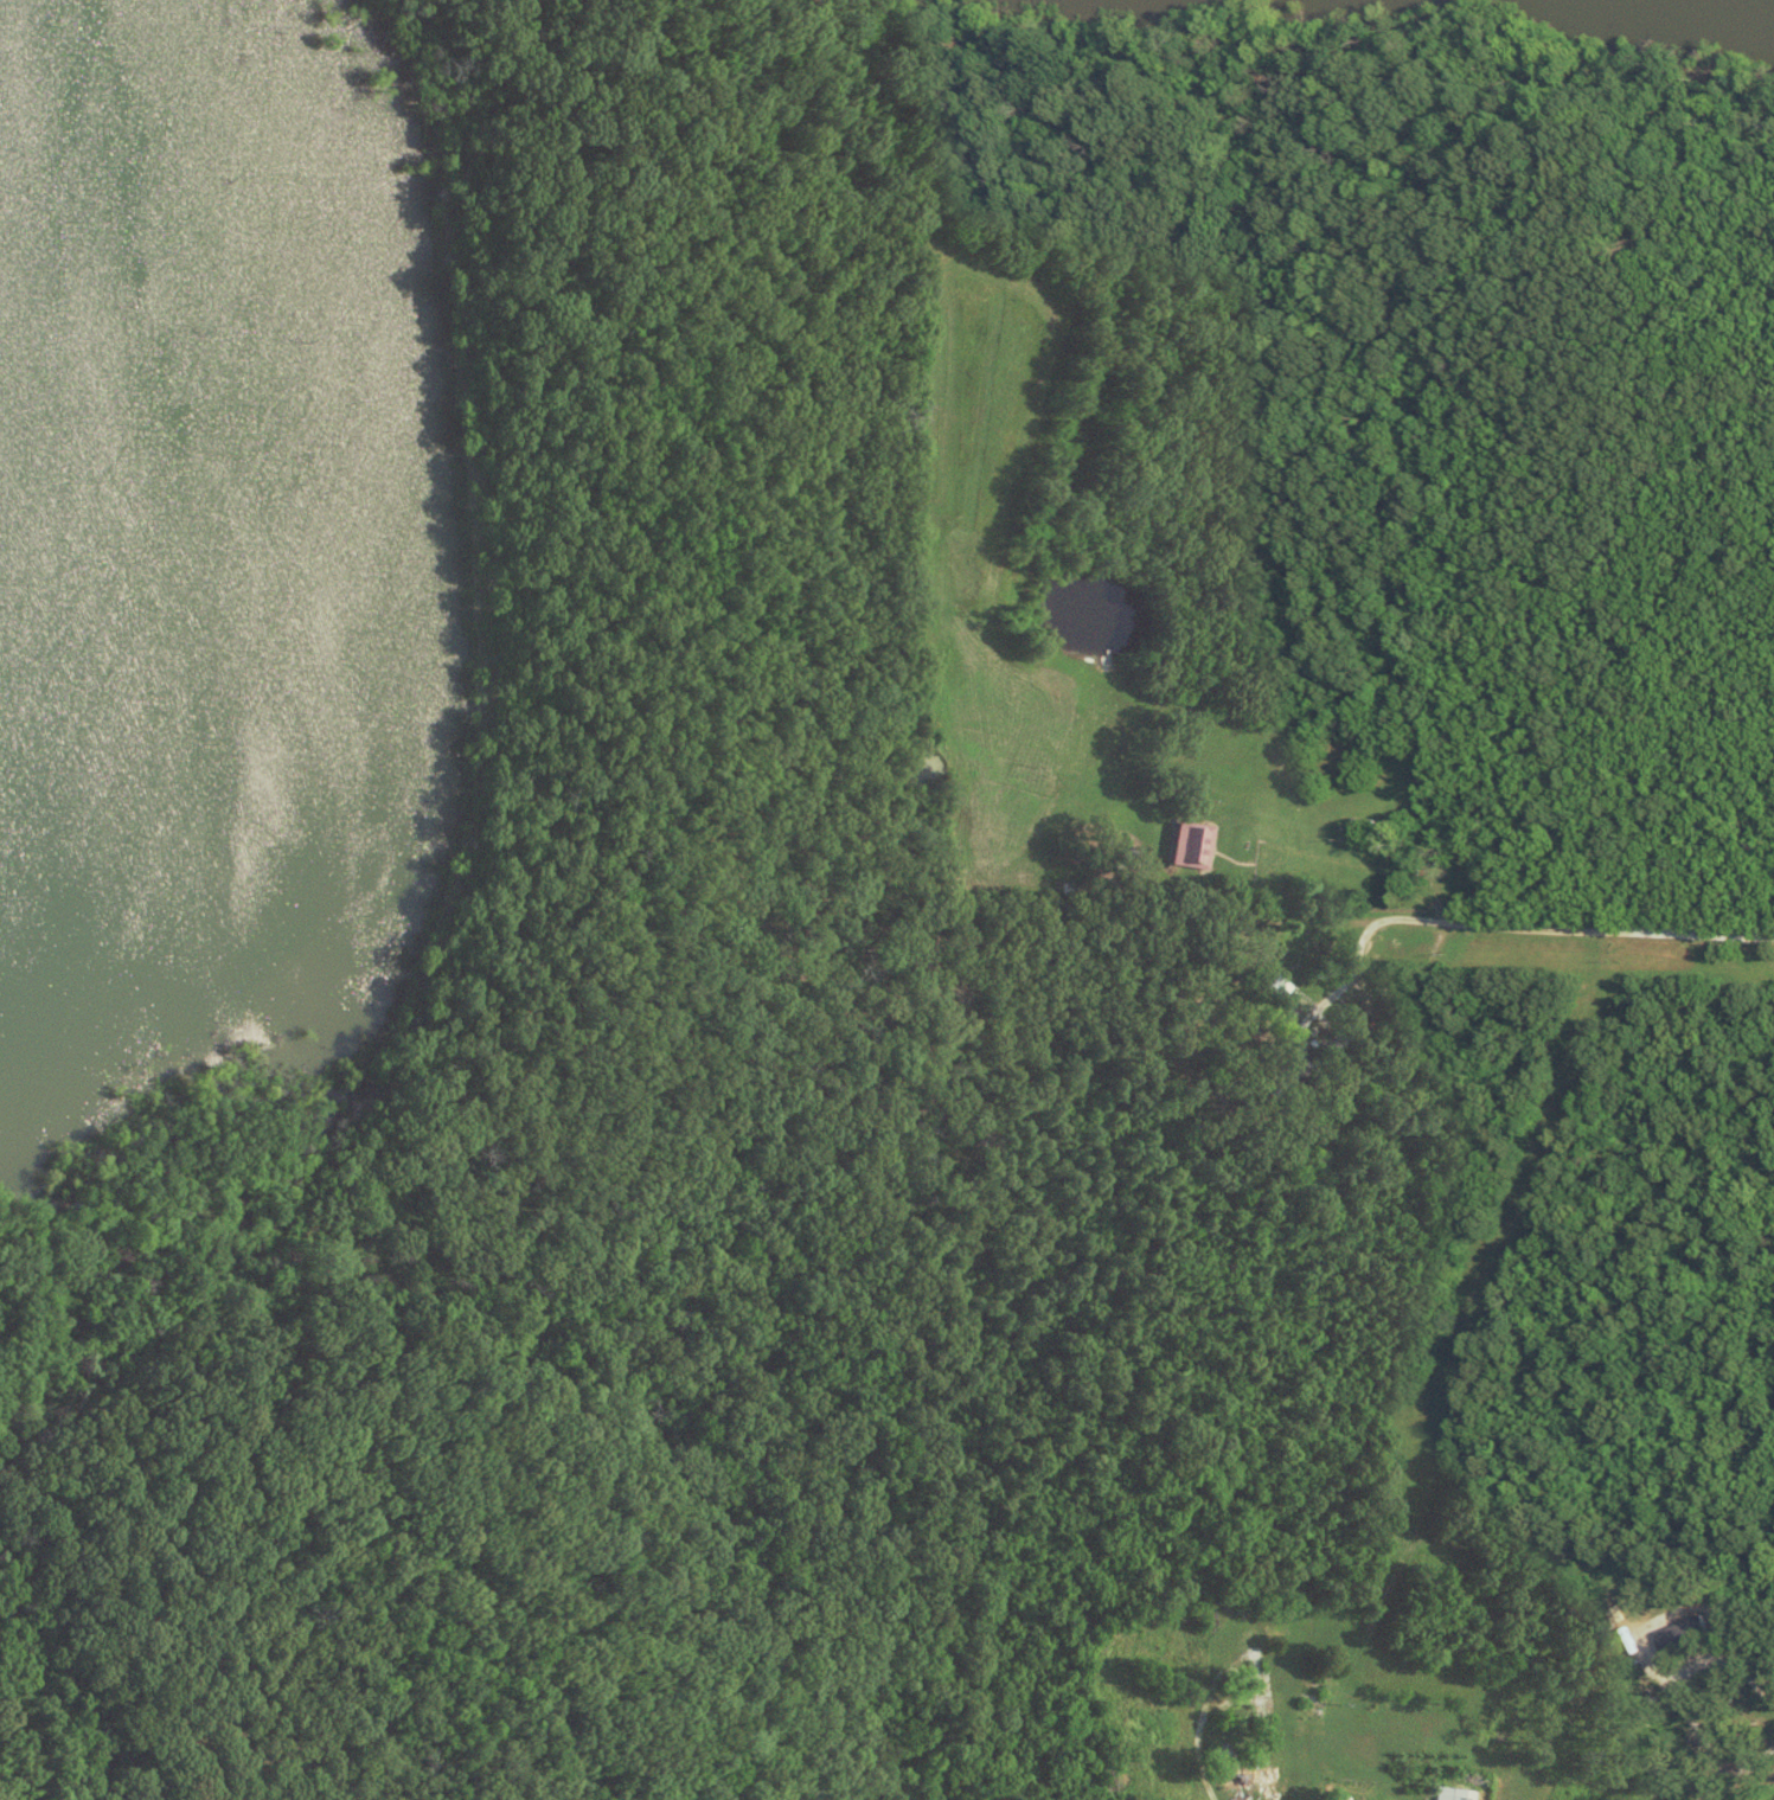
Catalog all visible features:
building: (1192, 845)
road: (1581, 939)
road: (1343, 1174)
building: (1687, 1631)
building: (1261, 1686)
road: (1196, 1734)
road: (1702, 1744)
building: (1251, 1776)
building: (1455, 1793)
building: (1339, 1795)

